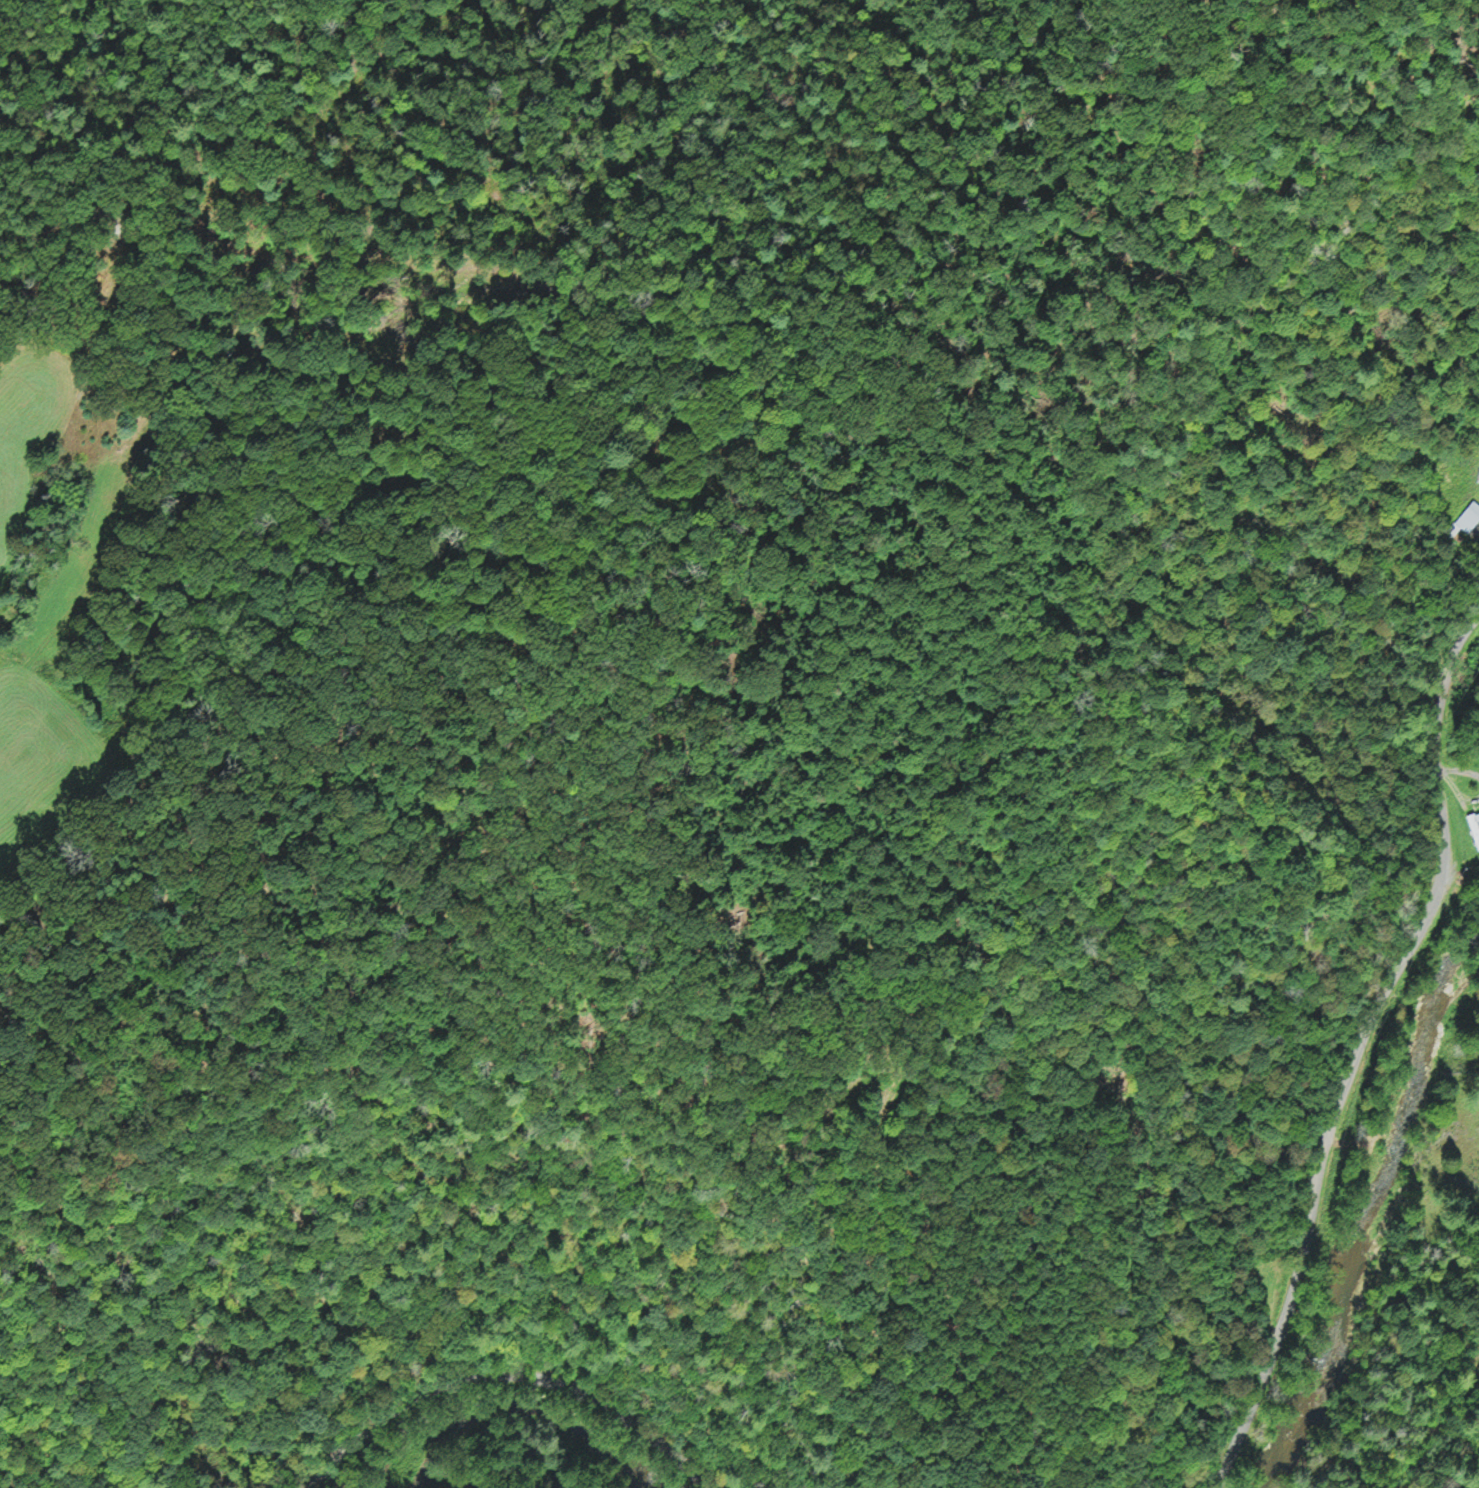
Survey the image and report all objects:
building: (1469, 516)
building: (1474, 828)
road: (1362, 1049)
road: (502, 1377)

